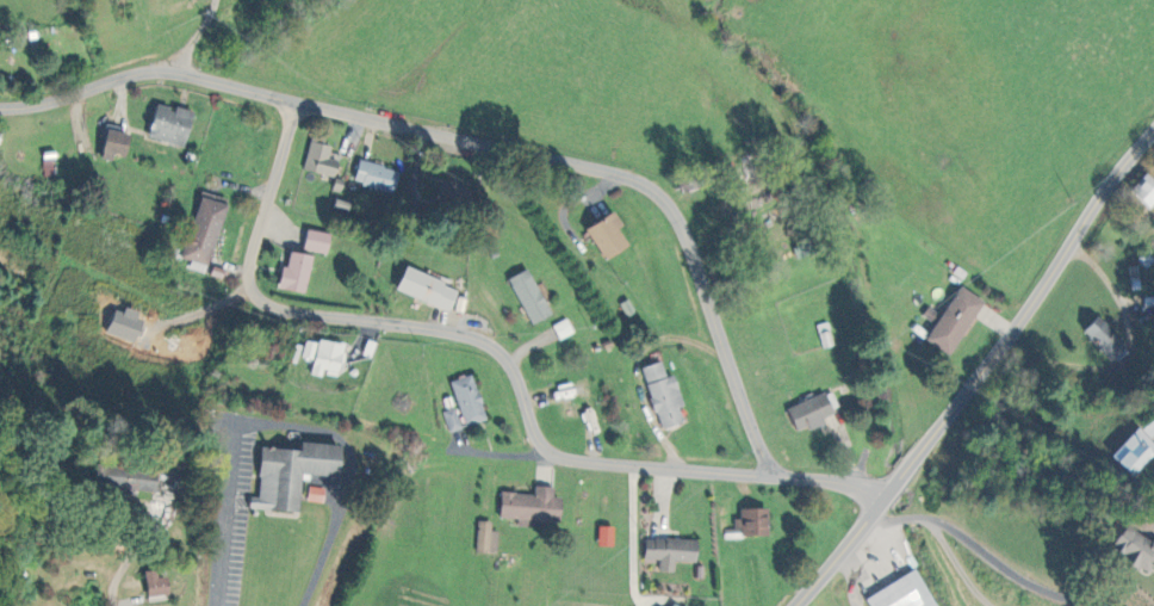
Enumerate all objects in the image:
road: (194, 35)
building: (172, 125)
road: (478, 141)
building: (116, 144)
building: (321, 157)
building: (377, 177)
building: (1146, 190)
building: (453, 194)
building: (205, 228)
building: (608, 235)
building: (317, 241)
building: (297, 272)
building: (428, 289)
building: (529, 296)
building: (955, 320)
building: (126, 324)
building: (563, 328)
building: (1106, 339)
road: (500, 353)
road: (1130, 357)
building: (328, 358)
road: (981, 375)
building: (664, 395)
building: (467, 400)
building: (811, 412)
building: (452, 419)
road: (285, 422)
building: (1149, 429)
building: (1135, 452)
building: (292, 474)
building: (135, 480)
building: (315, 494)
building: (532, 507)
building: (750, 522)
road: (653, 536)
building: (486, 537)
road: (947, 540)
building: (1135, 549)
building: (670, 551)
road: (1015, 573)
building: (155, 583)

